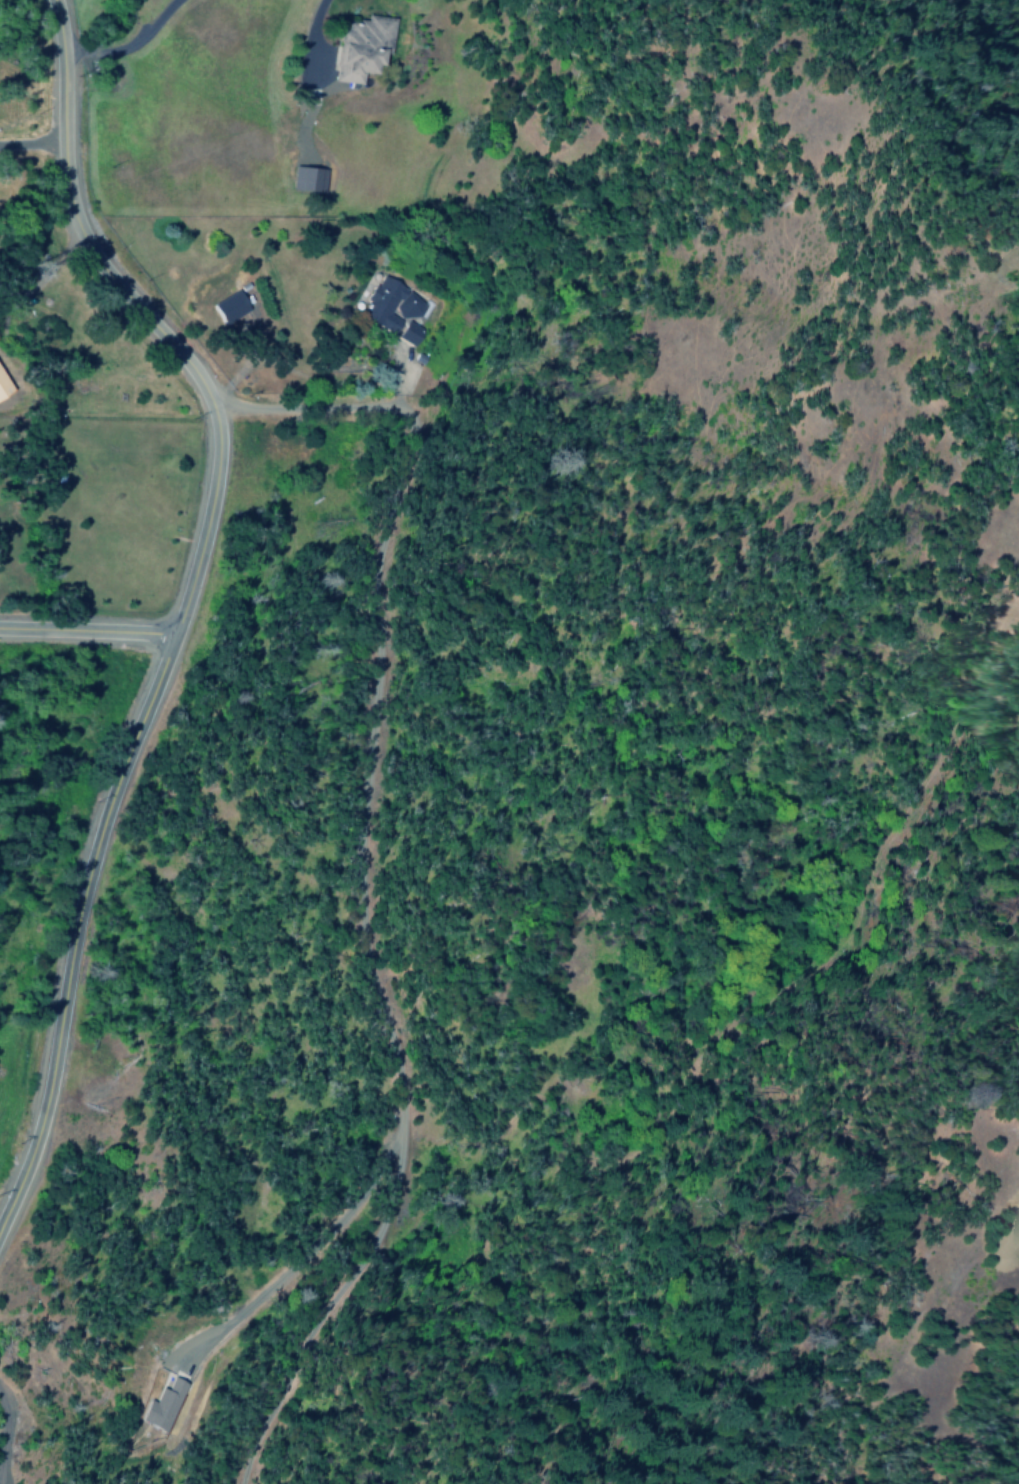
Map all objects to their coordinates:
building: (361, 48)
building: (308, 178)
road: (77, 216)
building: (389, 304)
building: (230, 306)
building: (409, 333)
road: (84, 622)
road: (106, 807)
road: (362, 861)
building: (167, 1406)

